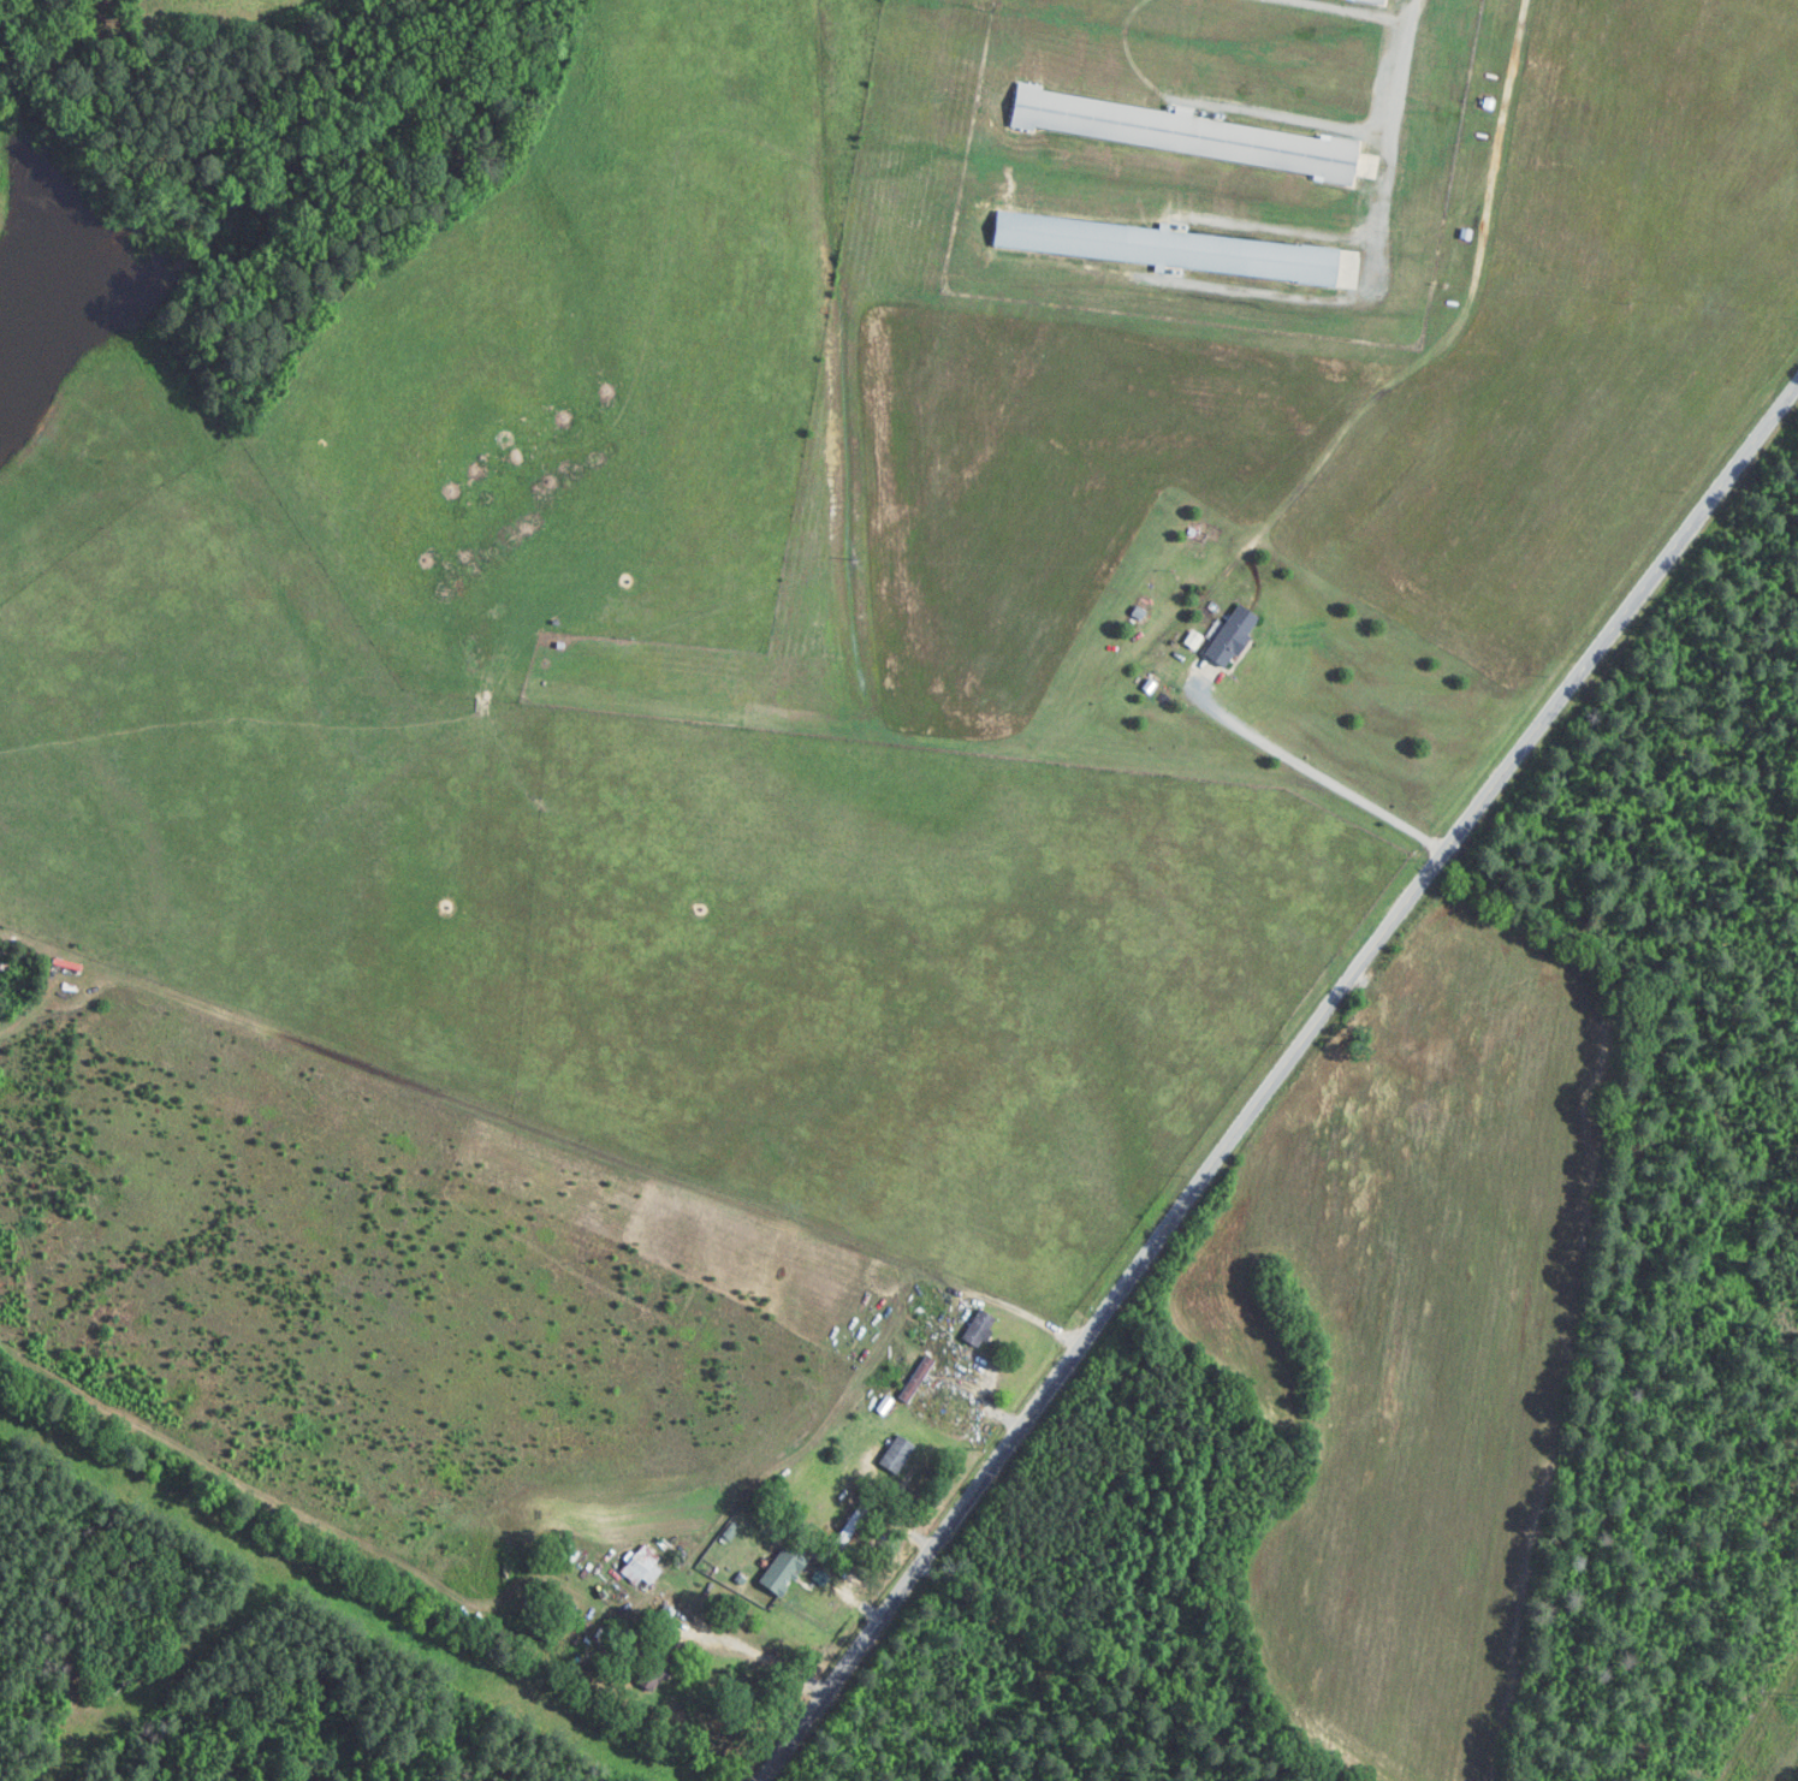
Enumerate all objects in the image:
building: (1384, 0)
building: (1188, 136)
building: (1171, 250)
building: (1236, 637)
road: (1270, 1076)
road: (1011, 1300)
building: (981, 1330)
building: (920, 1379)
building: (900, 1455)
building: (853, 1527)
building: (645, 1569)

